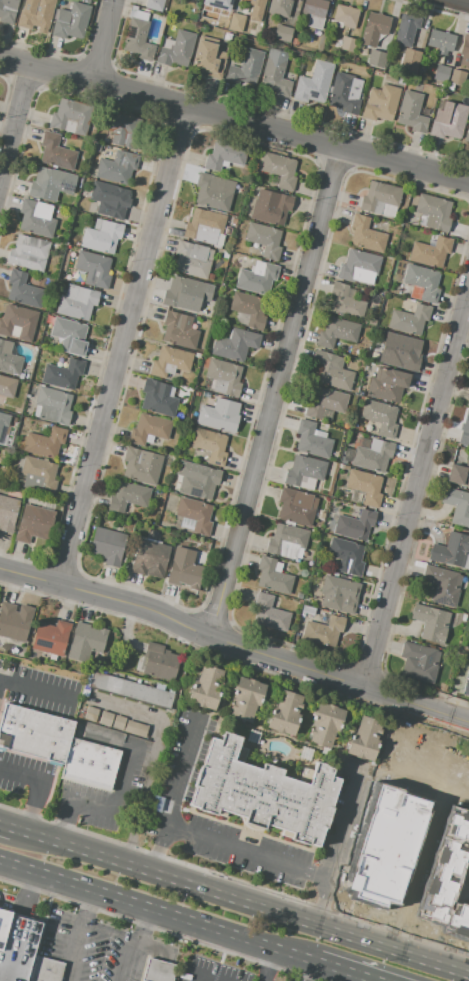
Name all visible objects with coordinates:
building: (196, 0)
building: (86, 1)
road: (463, 1)
building: (154, 4)
building: (213, 5)
building: (280, 7)
building: (314, 7)
building: (256, 9)
building: (7, 11)
building: (37, 15)
building: (345, 16)
building: (202, 20)
building: (71, 21)
building: (236, 21)
building: (375, 28)
building: (405, 29)
building: (251, 32)
building: (282, 33)
building: (227, 36)
building: (138, 39)
road: (101, 40)
building: (441, 42)
building: (348, 45)
building: (177, 50)
building: (465, 51)
building: (208, 58)
building: (375, 58)
building: (409, 61)
building: (246, 67)
building: (276, 73)
building: (441, 73)
building: (457, 77)
building: (400, 81)
building: (314, 83)
building: (450, 87)
building: (346, 93)
building: (380, 103)
building: (411, 112)
building: (71, 116)
road: (234, 120)
building: (449, 121)
road: (17, 127)
building: (124, 130)
building: (467, 134)
building: (97, 147)
building: (56, 152)
building: (225, 154)
building: (117, 167)
building: (279, 169)
building: (51, 184)
building: (214, 191)
building: (379, 197)
building: (109, 198)
building: (84, 205)
building: (271, 206)
building: (435, 211)
building: (36, 218)
building: (234, 221)
building: (205, 227)
building: (227, 230)
building: (365, 235)
building: (102, 236)
building: (264, 239)
building: (76, 244)
building: (431, 251)
building: (29, 253)
building: (192, 259)
building: (359, 267)
building: (94, 269)
building: (78, 277)
building: (257, 277)
building: (422, 283)
building: (23, 290)
building: (182, 291)
building: (77, 302)
building: (346, 302)
building: (249, 308)
building: (409, 320)
building: (18, 321)
building: (179, 330)
building: (337, 332)
building: (70, 335)
building: (54, 344)
building: (235, 344)
road: (125, 347)
building: (403, 349)
building: (197, 355)
building: (9, 359)
building: (170, 361)
building: (333, 371)
building: (63, 373)
building: (24, 376)
building: (225, 377)
building: (387, 384)
building: (7, 386)
road: (277, 395)
building: (158, 397)
building: (325, 402)
building: (468, 402)
building: (53, 405)
building: (219, 413)
building: (0, 414)
building: (380, 416)
building: (149, 429)
building: (1, 431)
building: (464, 437)
building: (313, 439)
building: (45, 442)
building: (210, 445)
building: (371, 454)
building: (142, 465)
building: (304, 472)
building: (39, 474)
building: (459, 474)
building: (199, 481)
building: (365, 486)
road: (416, 494)
building: (127, 497)
building: (457, 505)
building: (296, 506)
building: (7, 515)
building: (194, 515)
building: (34, 523)
building: (355, 525)
building: (153, 534)
building: (286, 541)
building: (107, 546)
building: (451, 550)
building: (347, 556)
building: (150, 557)
building: (185, 568)
building: (273, 576)
building: (443, 584)
building: (339, 594)
building: (299, 595)
building: (308, 609)
building: (270, 613)
building: (14, 621)
building: (431, 623)
building: (323, 630)
building: (51, 638)
building: (85, 641)
road: (233, 649)
building: (465, 651)
building: (153, 661)
building: (419, 662)
building: (8, 670)
road: (1, 683)
building: (466, 686)
building: (443, 687)
building: (205, 688)
building: (131, 690)
road: (38, 691)
building: (246, 698)
building: (284, 713)
building: (98, 716)
building: (119, 722)
building: (325, 724)
building: (136, 728)
building: (253, 737)
building: (364, 738)
building: (58, 746)
building: (306, 754)
road: (155, 758)
road: (183, 770)
road: (42, 787)
building: (263, 793)
road: (118, 810)
road: (347, 822)
road: (21, 843)
building: (385, 847)
road: (248, 850)
road: (234, 897)
road: (160, 910)
road: (159, 929)
road: (113, 936)
building: (24, 951)
road: (79, 954)
road: (131, 963)
road: (271, 965)
building: (158, 971)
road: (349, 971)
road: (205, 977)
road: (376, 980)

